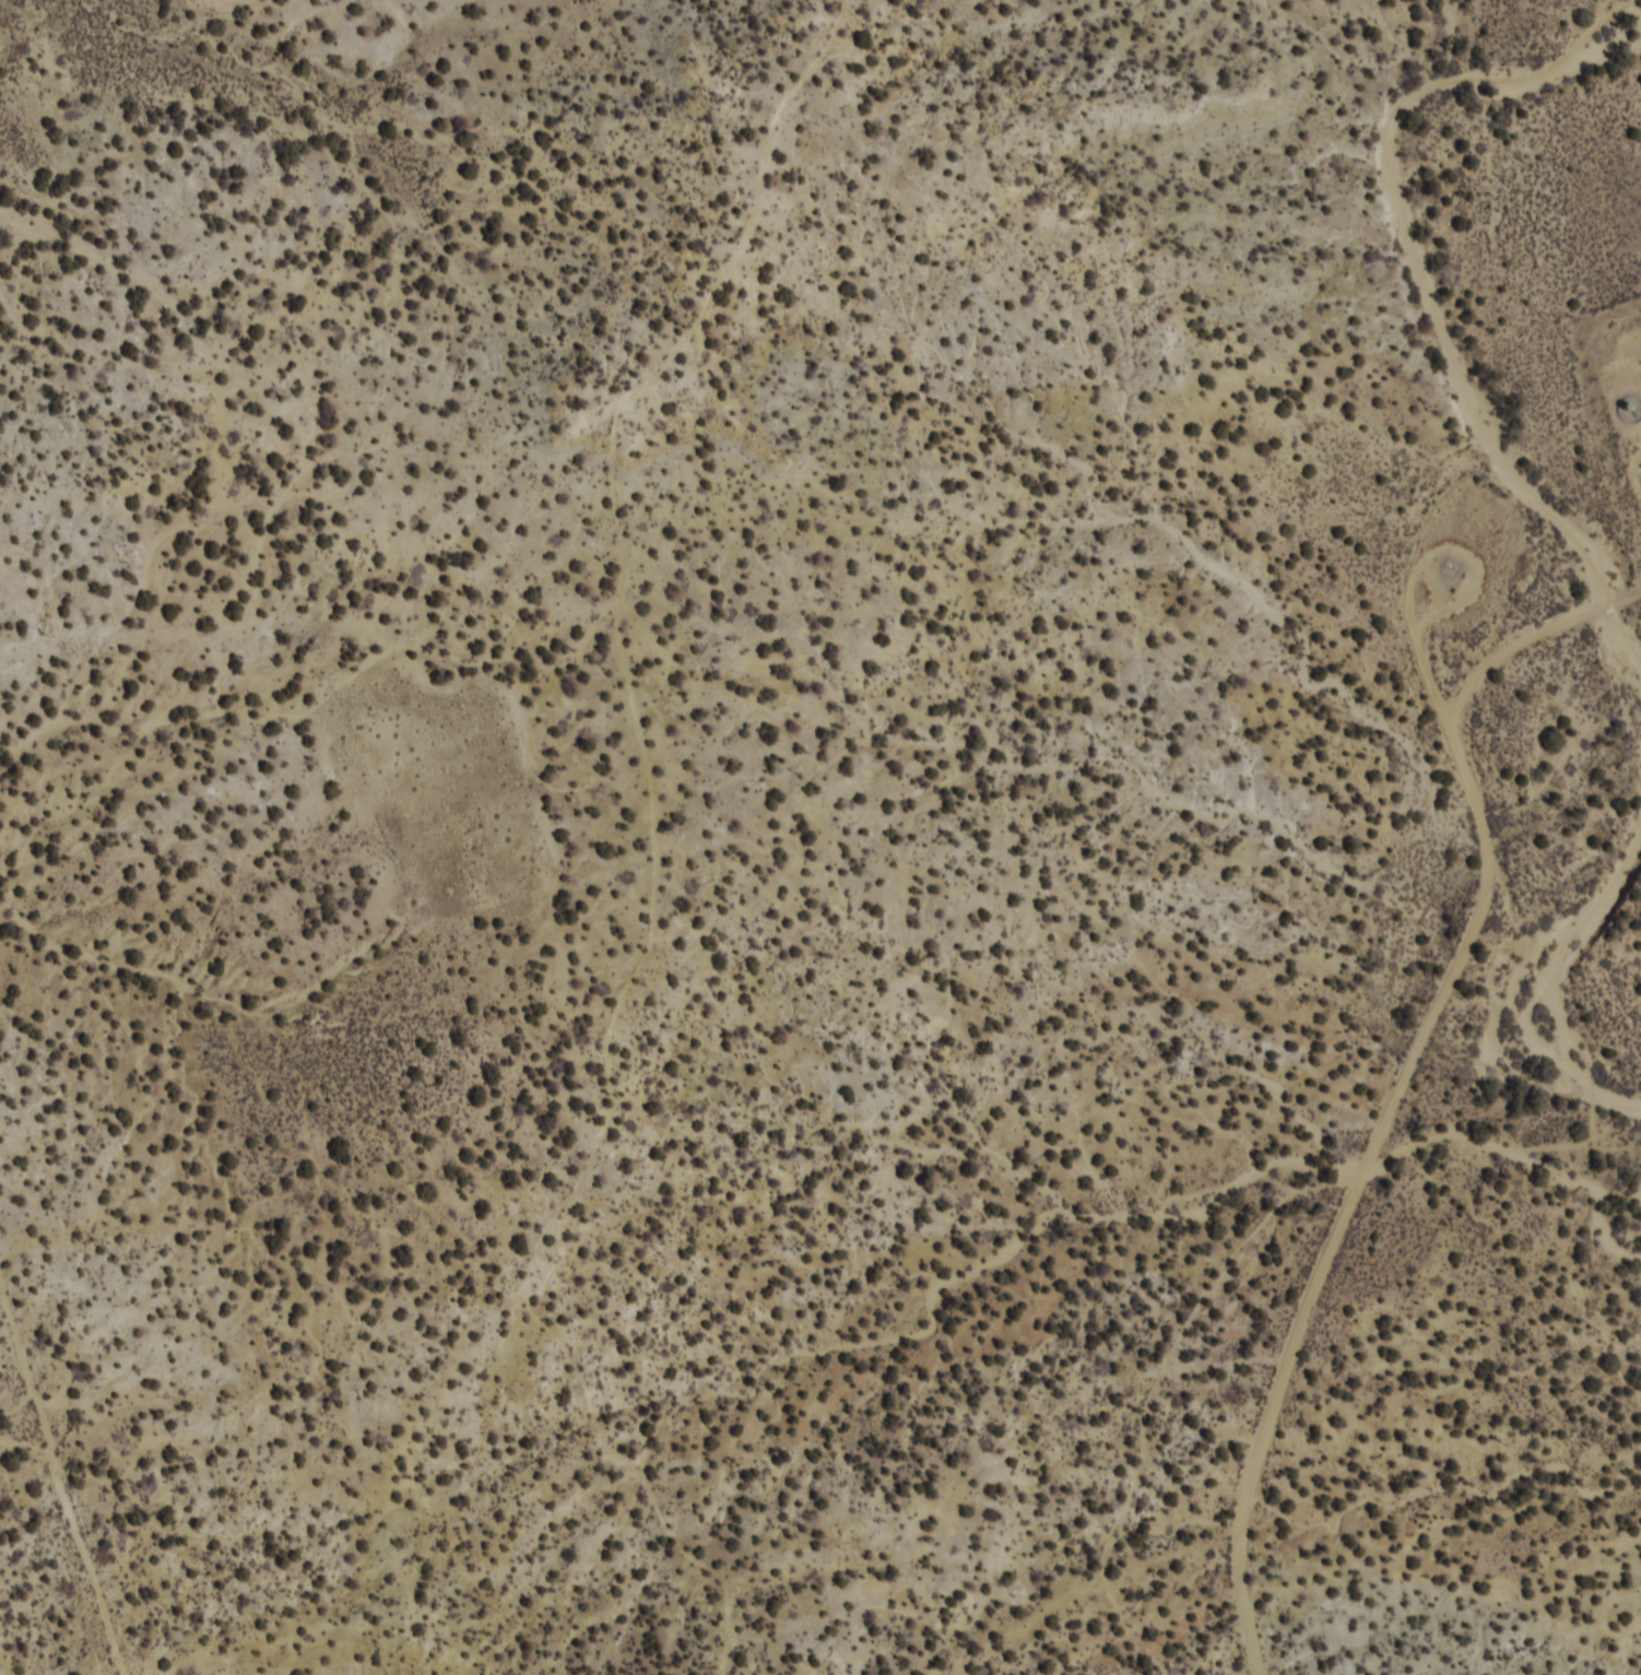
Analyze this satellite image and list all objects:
river: (1445, 299)
river: (1549, 971)

